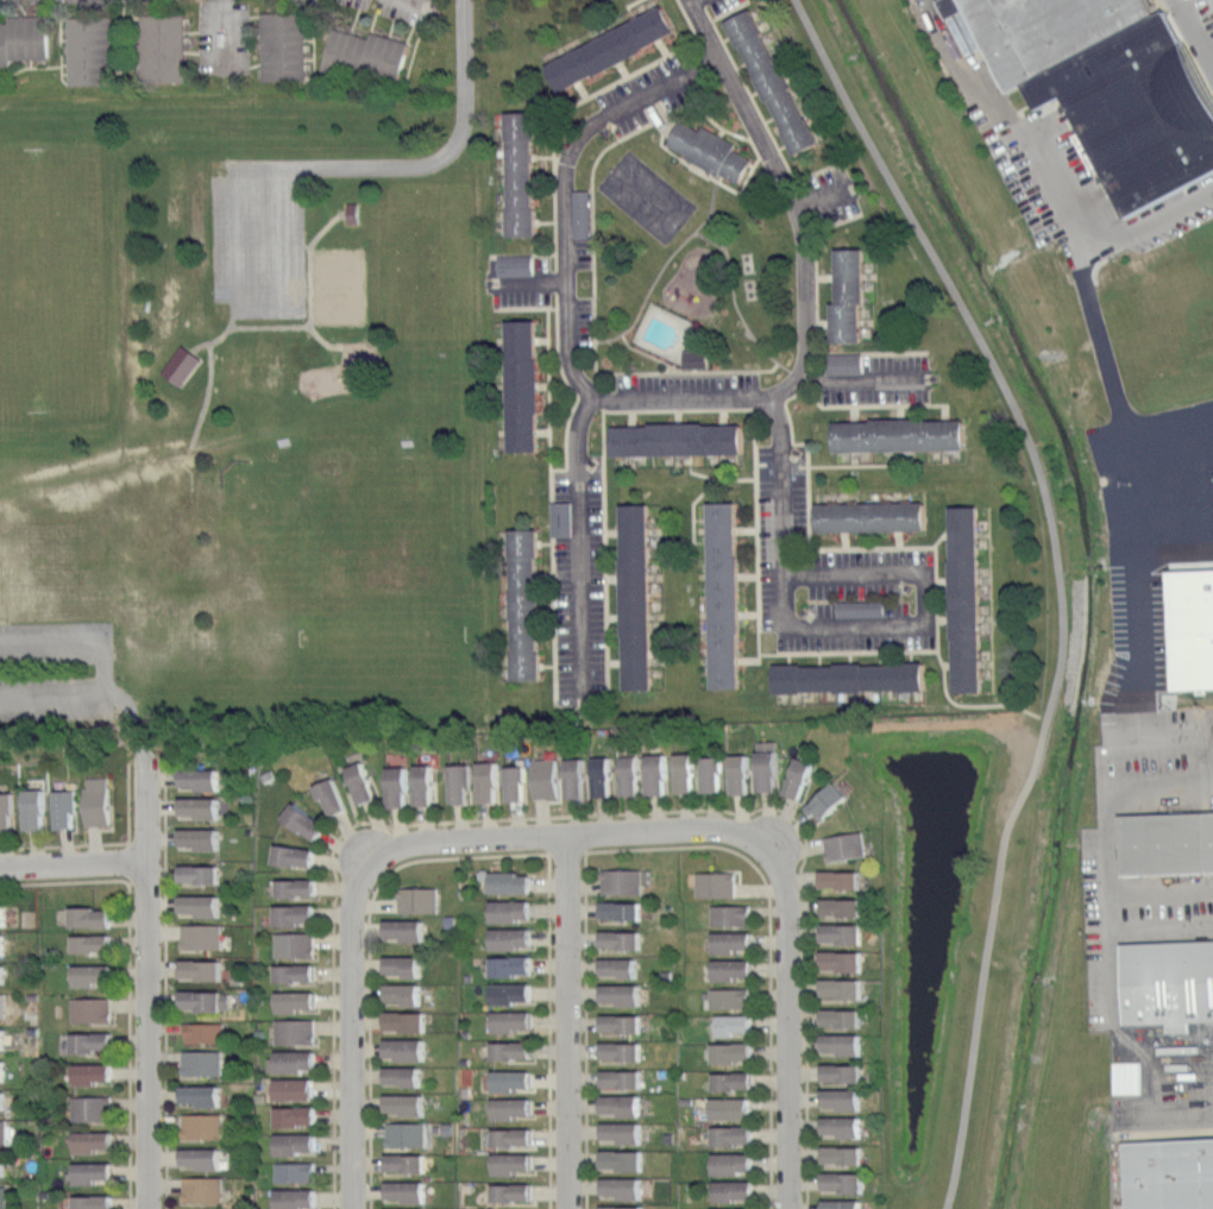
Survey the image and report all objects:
road: (414, 2)
road: (628, 4)
road: (1189, 7)
parking lot: (1202, 18)
road: (353, 19)
road: (370, 24)
road: (390, 26)
building: (1042, 30)
road: (190, 31)
road: (222, 32)
road: (409, 32)
road: (312, 34)
road: (725, 36)
building: (24, 39)
road: (1189, 44)
building: (283, 45)
building: (162, 48)
building: (611, 48)
road: (664, 48)
building: (90, 49)
building: (365, 57)
road: (740, 63)
road: (623, 69)
road: (407, 77)
road: (333, 80)
building: (773, 81)
road: (582, 90)
road: (754, 90)
road: (579, 100)
road: (755, 106)
building: (1136, 111)
road: (768, 119)
road: (721, 131)
road: (634, 132)
road: (662, 144)
road: (783, 145)
building: (710, 150)
road: (545, 155)
road: (420, 162)
building: (522, 172)
road: (719, 177)
road: (794, 194)
road: (819, 195)
park: (647, 196)
road: (1045, 199)
building: (351, 212)
road: (546, 220)
road: (1144, 220)
road: (235, 237)
parking lot: (257, 237)
road: (282, 237)
road: (711, 239)
road: (721, 244)
park: (689, 251)
road: (815, 251)
road: (523, 254)
road: (309, 262)
building: (509, 264)
road: (661, 266)
park: (58, 276)
road: (827, 276)
road: (529, 279)
park: (338, 285)
building: (848, 298)
road: (557, 303)
road: (735, 304)
road: (260, 307)
road: (291, 323)
road: (226, 329)
road: (542, 338)
road: (817, 338)
road: (568, 339)
road: (893, 352)
building: (840, 363)
building: (181, 364)
road: (695, 370)
road: (636, 371)
road: (863, 379)
road: (543, 384)
building: (523, 385)
road: (210, 386)
road: (576, 393)
park: (254, 397)
road: (678, 398)
road: (786, 403)
road: (666, 409)
road: (1168, 410)
road: (900, 411)
road: (853, 413)
road: (678, 415)
road: (723, 416)
road: (631, 418)
road: (543, 432)
building: (899, 434)
building: (678, 439)
road: (809, 464)
road: (855, 464)
road: (700, 473)
road: (551, 478)
road: (781, 483)
road: (705, 490)
building: (871, 516)
building: (557, 517)
park: (295, 524)
road: (747, 529)
road: (612, 531)
road: (941, 536)
road: (899, 539)
road: (844, 540)
road: (546, 542)
road: (680, 542)
road: (1125, 548)
road: (1169, 549)
road: (884, 572)
road: (748, 574)
road: (614, 578)
road: (944, 580)
road: (1060, 580)
building: (723, 594)
building: (636, 596)
road: (936, 598)
building: (966, 599)
building: (526, 604)
road: (547, 604)
building: (855, 607)
road: (748, 613)
road: (615, 617)
road: (944, 619)
building: (1187, 625)
road: (828, 628)
road: (547, 634)
road: (52, 641)
park: (379, 641)
road: (848, 651)
road: (910, 655)
road: (819, 656)
road: (850, 656)
road: (880, 656)
road: (788, 657)
road: (615, 661)
road: (948, 663)
road: (548, 665)
parking lot: (57, 667)
road: (106, 670)
building: (849, 678)
road: (52, 700)
road: (972, 705)
building: (760, 764)
building: (678, 772)
building: (637, 773)
building: (704, 773)
building: (733, 773)
building: (596, 775)
building: (570, 776)
building: (540, 777)
building: (792, 777)
building: (205, 779)
building: (354, 781)
building: (469, 781)
building: (510, 782)
building: (404, 785)
building: (1212, 788)
building: (326, 795)
building: (821, 800)
building: (99, 801)
building: (202, 807)
building: (37, 808)
building: (68, 808)
building: (8, 812)
road: (578, 814)
building: (308, 821)
road: (595, 833)
building: (202, 838)
road: (102, 843)
building: (1163, 843)
building: (841, 845)
road: (1108, 845)
building: (297, 855)
road: (74, 865)
building: (202, 874)
building: (831, 879)
road: (64, 881)
building: (616, 881)
building: (711, 883)
building: (301, 887)
building: (420, 899)
building: (203, 905)
building: (832, 906)
building: (504, 909)
building: (612, 909)
building: (301, 914)
building: (724, 914)
building: (5, 915)
building: (98, 917)
building: (407, 930)
building: (831, 932)
building: (202, 936)
building: (504, 938)
building: (612, 939)
building: (724, 940)
building: (95, 943)
road: (149, 943)
building: (4, 944)
building: (295, 945)
road: (769, 946)
road: (369, 956)
building: (832, 959)
building: (505, 964)
building: (406, 965)
building: (612, 966)
building: (203, 969)
building: (723, 969)
building: (298, 972)
building: (4, 974)
building: (95, 975)
building: (1167, 978)
building: (831, 988)
building: (409, 993)
building: (505, 993)
building: (612, 993)
road: (165, 996)
building: (723, 997)
building: (205, 1000)
building: (302, 1001)
building: (2, 1005)
building: (90, 1009)
building: (832, 1018)
building: (509, 1020)
building: (408, 1021)
road: (567, 1021)
building: (612, 1022)
building: (727, 1024)
road: (350, 1028)
road: (549, 1029)
road: (585, 1029)
building: (296, 1031)
building: (207, 1033)
building: (4, 1038)
building: (93, 1043)
road: (128, 1043)
road: (792, 1046)
building: (408, 1049)
building: (507, 1050)
building: (614, 1050)
building: (724, 1052)
building: (300, 1062)
building: (202, 1063)
road: (1181, 1066)
building: (4, 1069)
building: (98, 1072)
building: (832, 1072)
building: (406, 1076)
building: (1123, 1077)
building: (614, 1078)
building: (517, 1079)
building: (723, 1081)
building: (300, 1089)
building: (206, 1095)
building: (835, 1098)
building: (5, 1100)
building: (409, 1104)
building: (614, 1104)
building: (515, 1107)
building: (92, 1108)
building: (721, 1108)
building: (301, 1116)
building: (203, 1126)
building: (834, 1126)
building: (2, 1131)
building: (617, 1132)
building: (407, 1134)
building: (723, 1135)
building: (513, 1136)
building: (94, 1141)
building: (301, 1144)
building: (834, 1154)
building: (205, 1158)
building: (616, 1159)
building: (407, 1163)
building: (515, 1163)
building: (722, 1163)
building: (4, 1165)
building: (1169, 1169)
building: (95, 1172)
building: (296, 1172)
building: (834, 1182)
building: (616, 1188)
building: (203, 1189)
building: (724, 1190)
building: (407, 1191)
building: (515, 1192)
building: (2, 1197)
building: (300, 1198)
building: (99, 1202)
building: (834, 1204)
building: (621, 1207)
building: (718, 1208)

